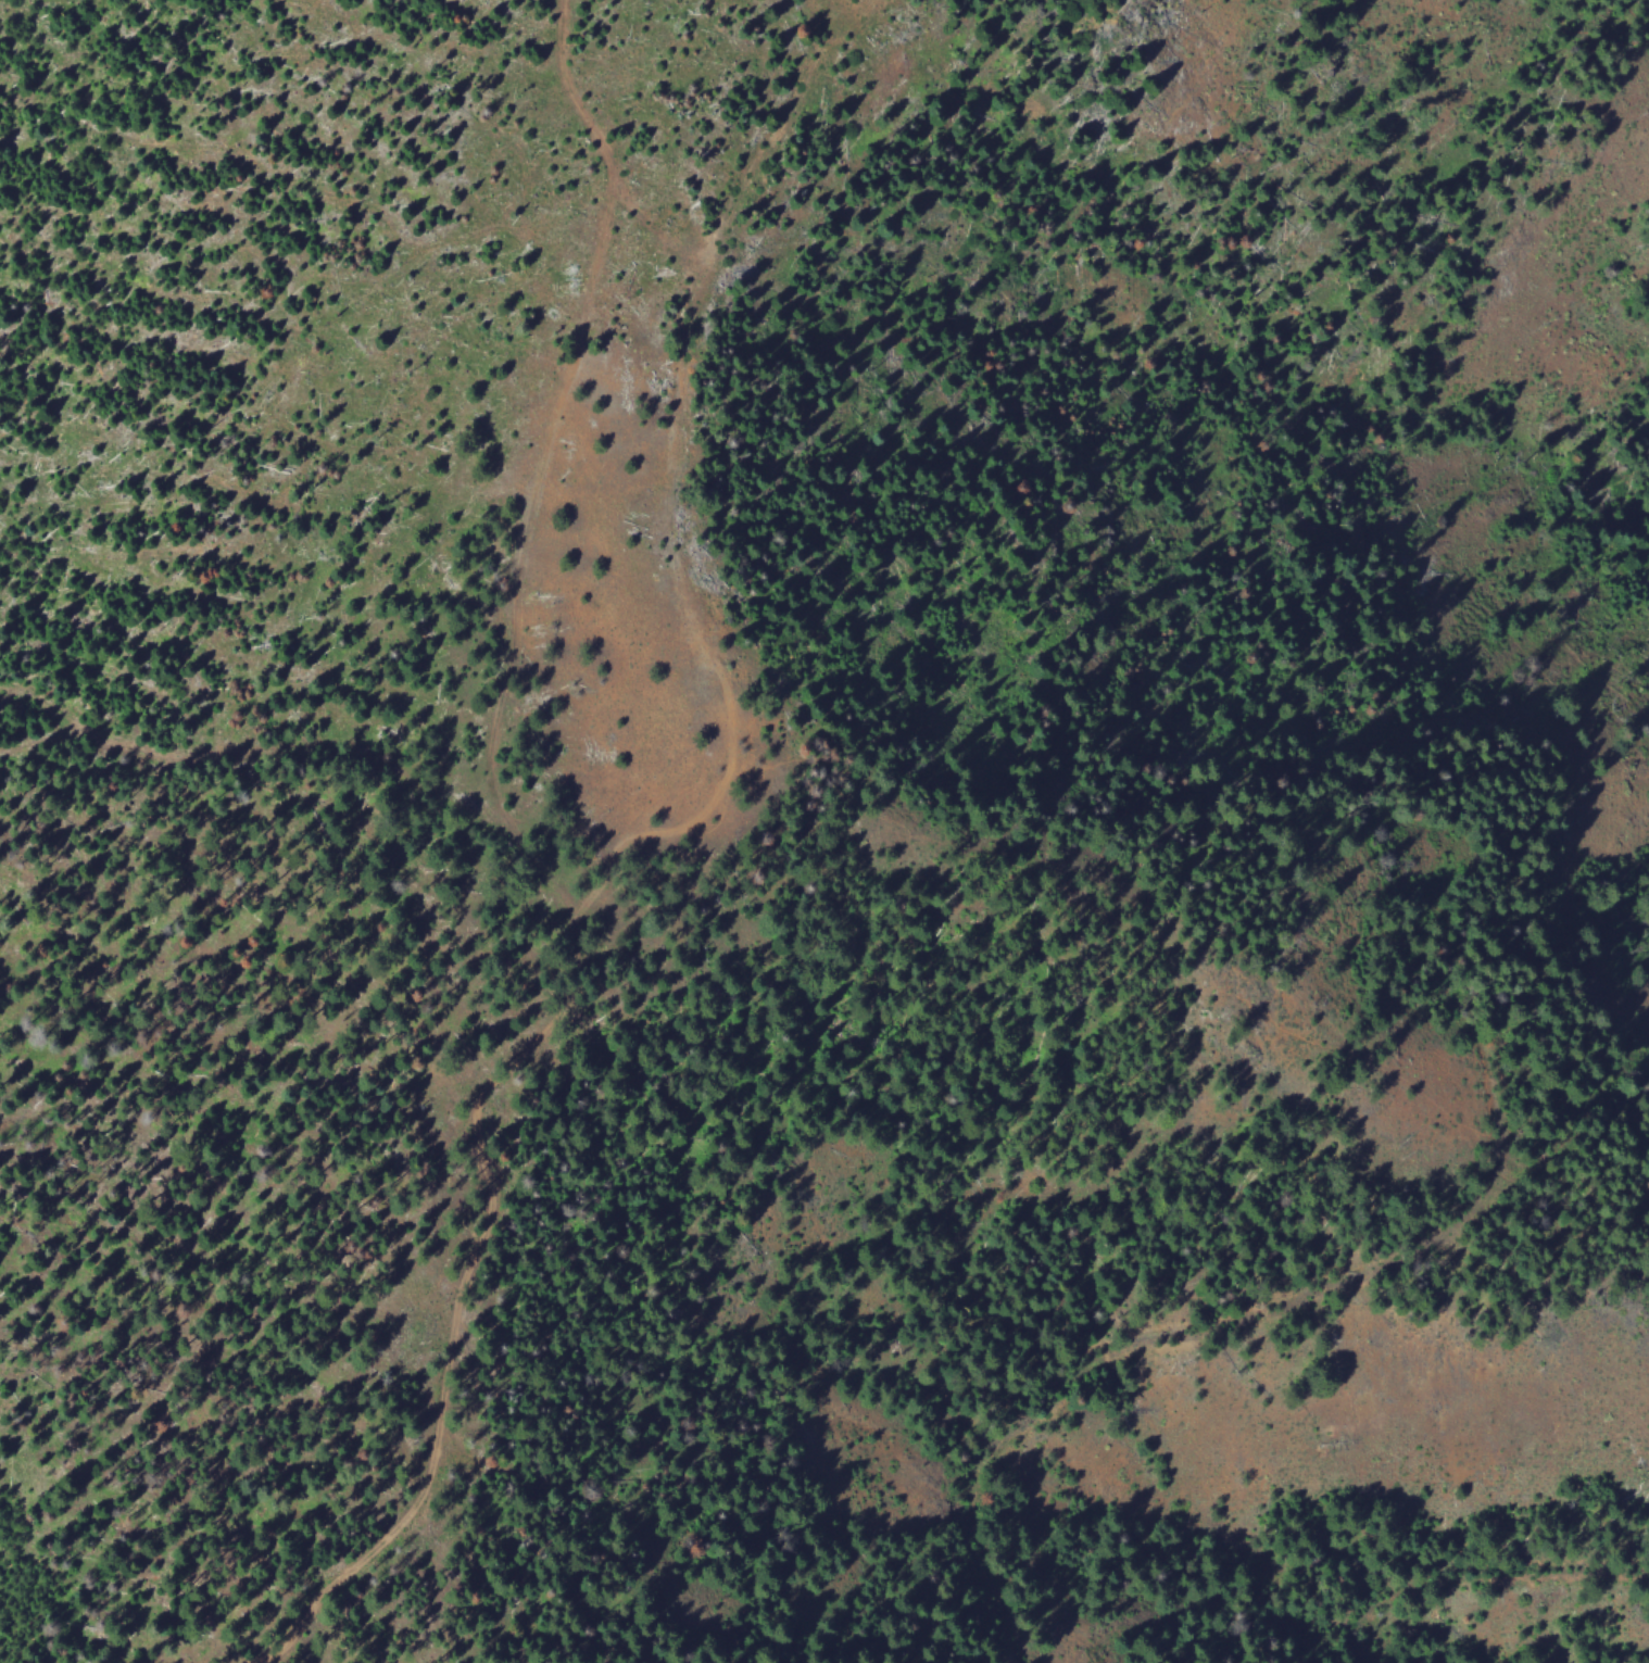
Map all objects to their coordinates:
road: (575, 337)
road: (1149, 1357)
road: (1488, 1620)

